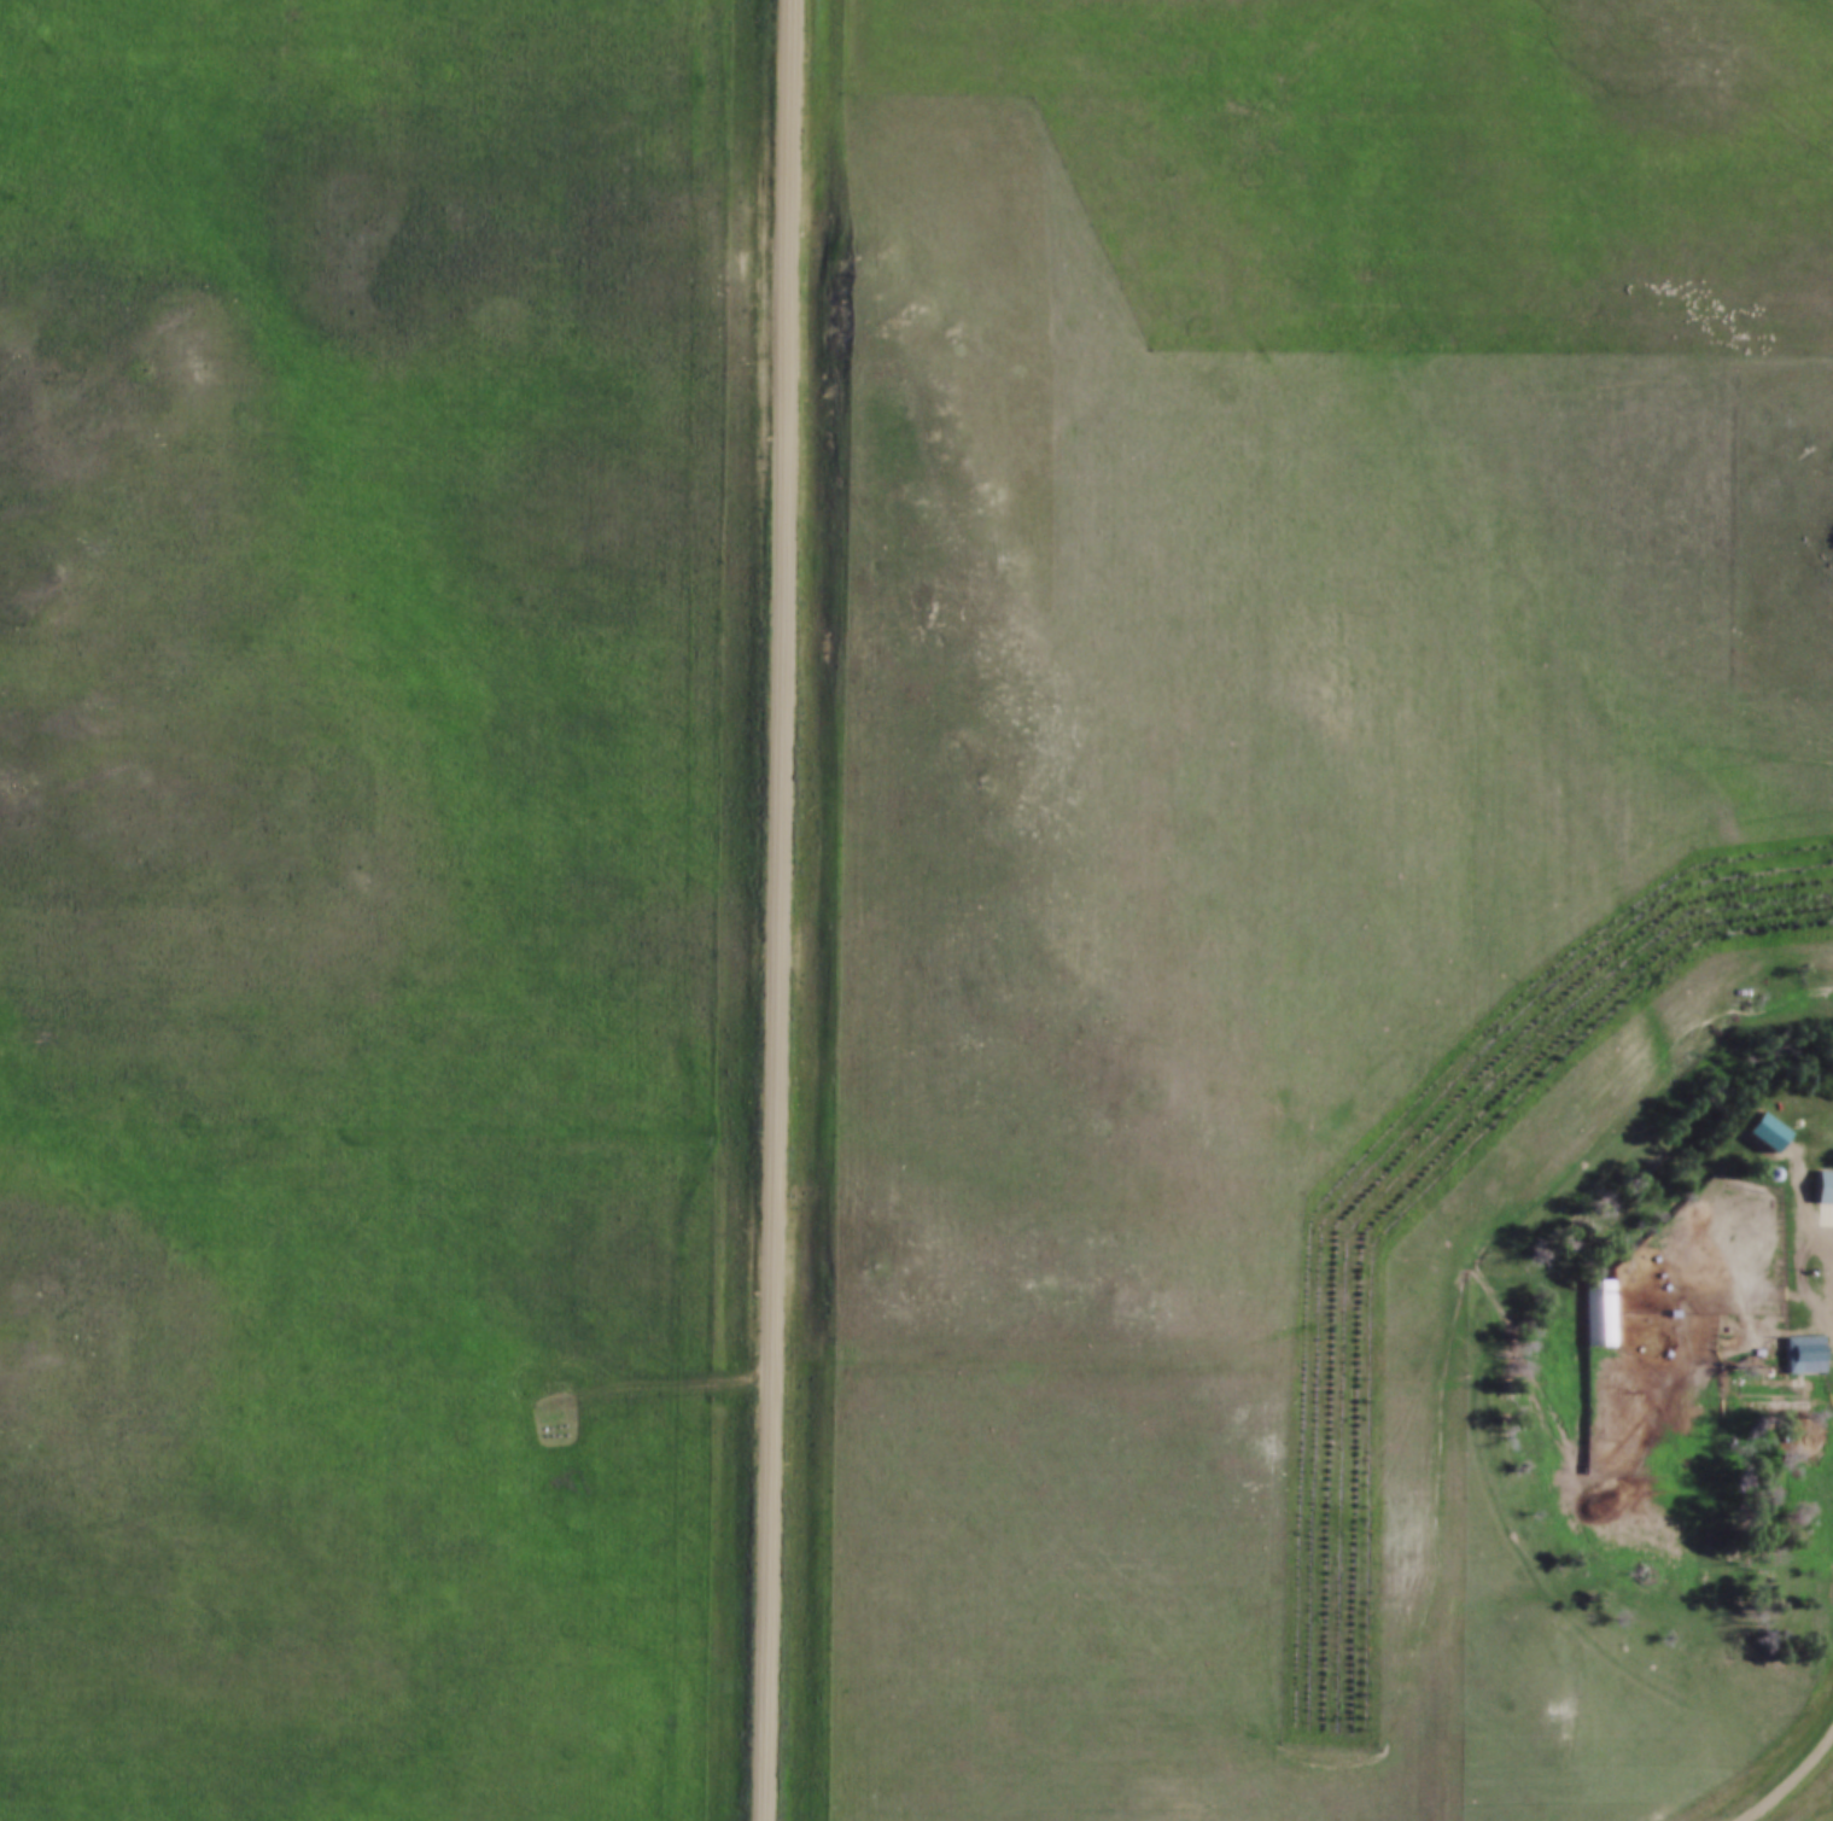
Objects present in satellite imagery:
road: (781, 910)
building: (1823, 1185)
building: (1599, 1309)
building: (1799, 1359)
road: (1792, 1781)

